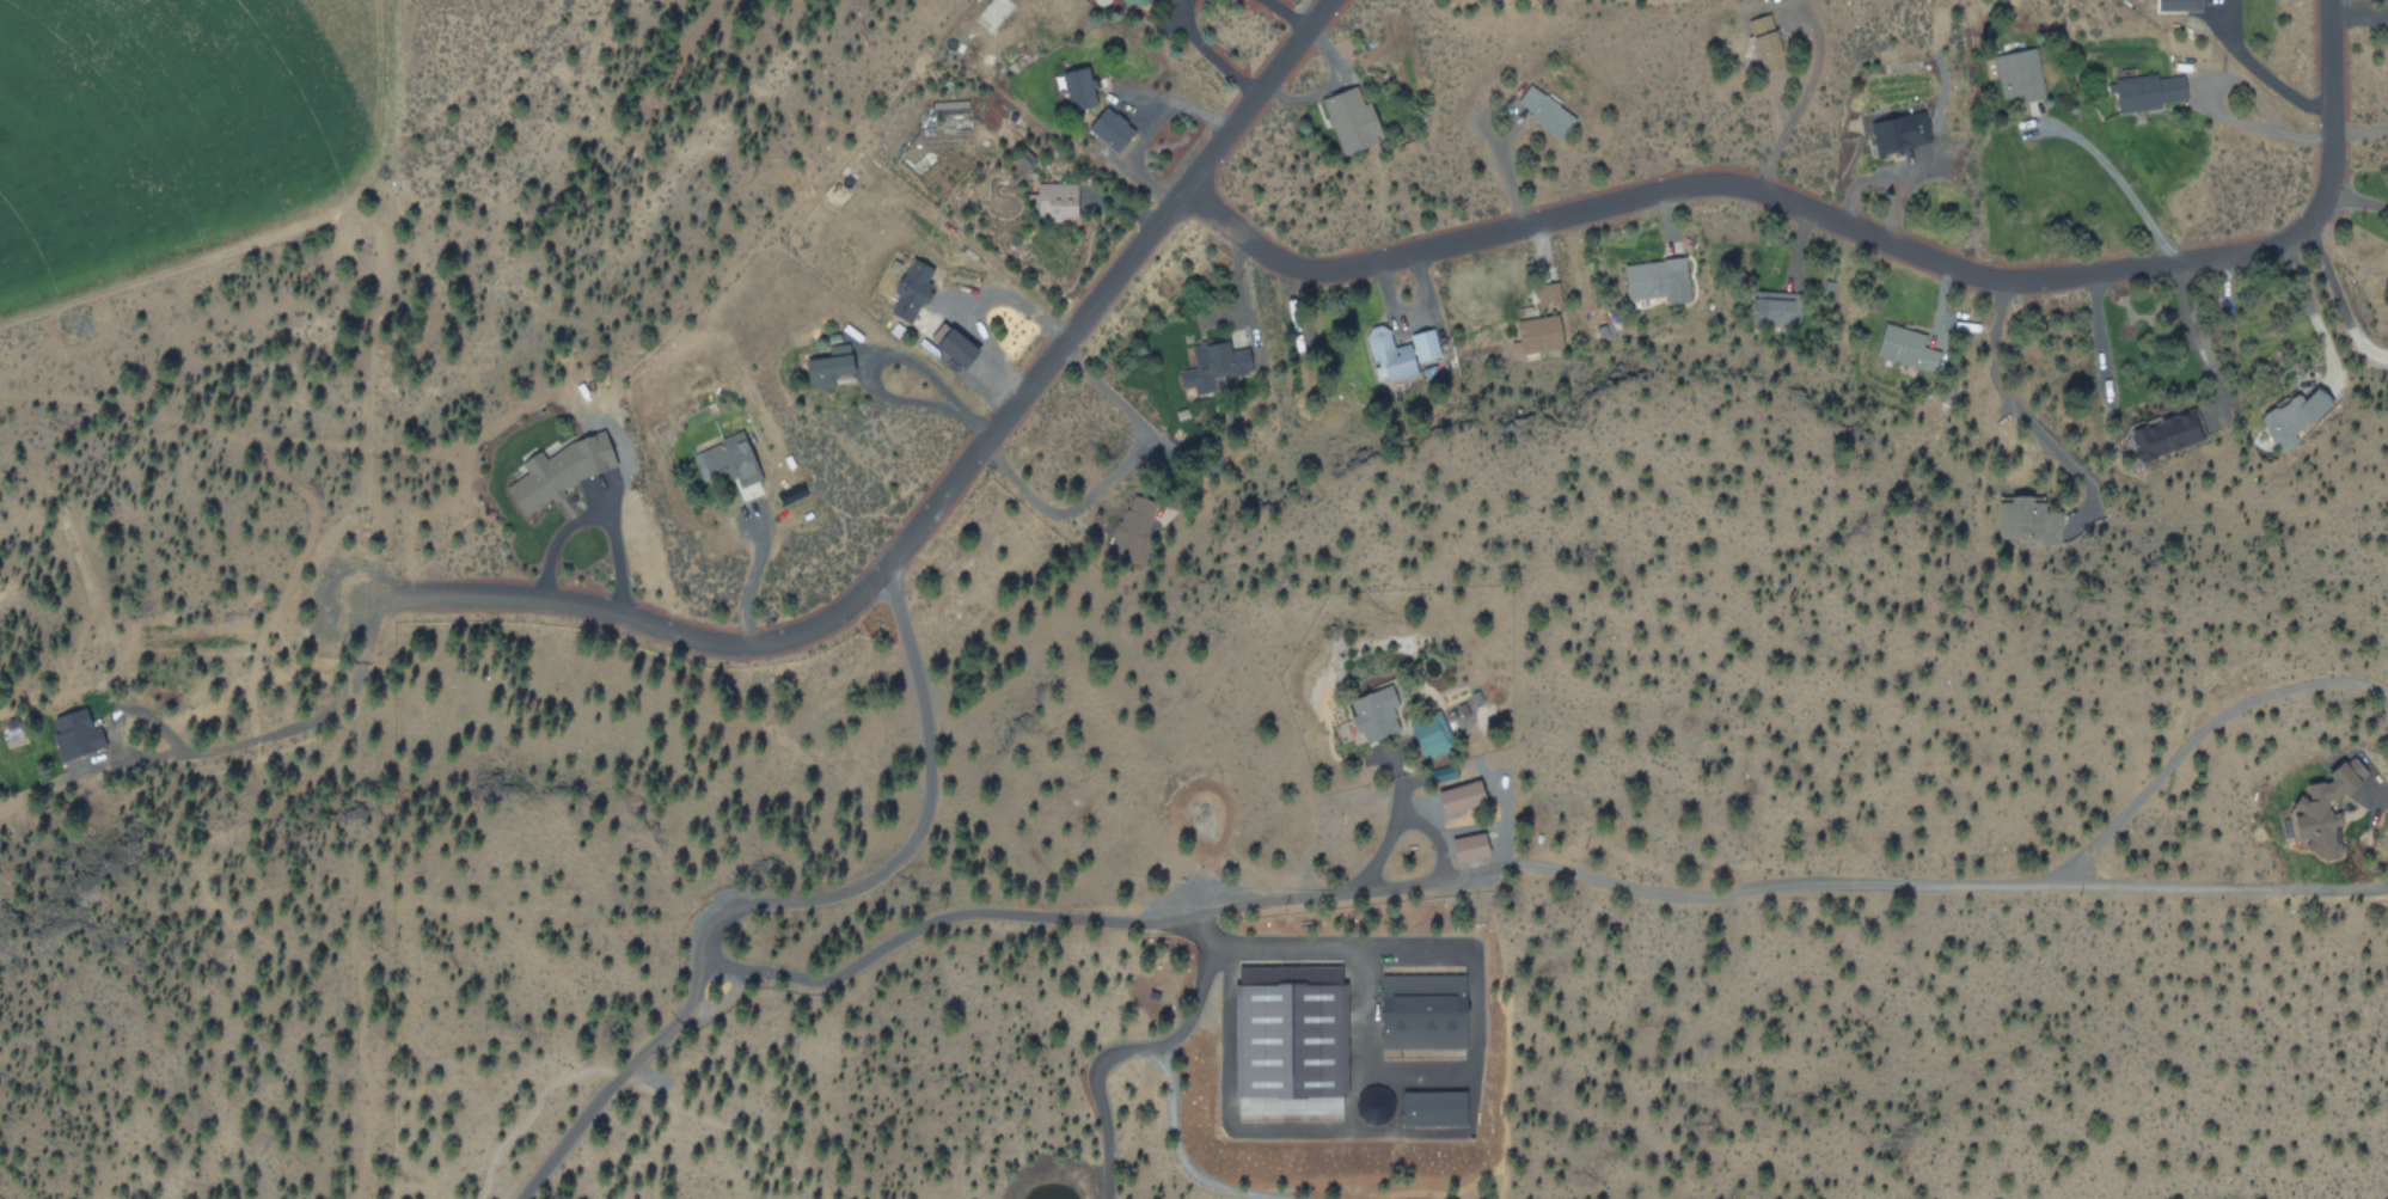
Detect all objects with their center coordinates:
building: (1129, 2)
building: (2180, 4)
building: (1764, 35)
building: (2019, 73)
building: (1080, 87)
building: (1545, 111)
building: (1352, 120)
crop: (218, 124)
building: (1112, 128)
building: (1899, 131)
building: (1054, 198)
road: (1843, 230)
building: (1658, 277)
building: (911, 289)
building: (1547, 293)
building: (1774, 306)
building: (1538, 332)
building: (955, 344)
building: (1905, 345)
building: (1398, 350)
building: (1213, 363)
building: (829, 365)
building: (2295, 415)
building: (2163, 434)
building: (727, 459)
building: (559, 470)
road: (931, 507)
building: (2026, 518)
building: (2069, 522)
building: (1131, 524)
building: (1376, 712)
building: (75, 733)
building: (1429, 733)
road: (153, 760)
building: (1462, 795)
building: (2328, 807)
building: (1471, 845)
building: (1413, 1005)

